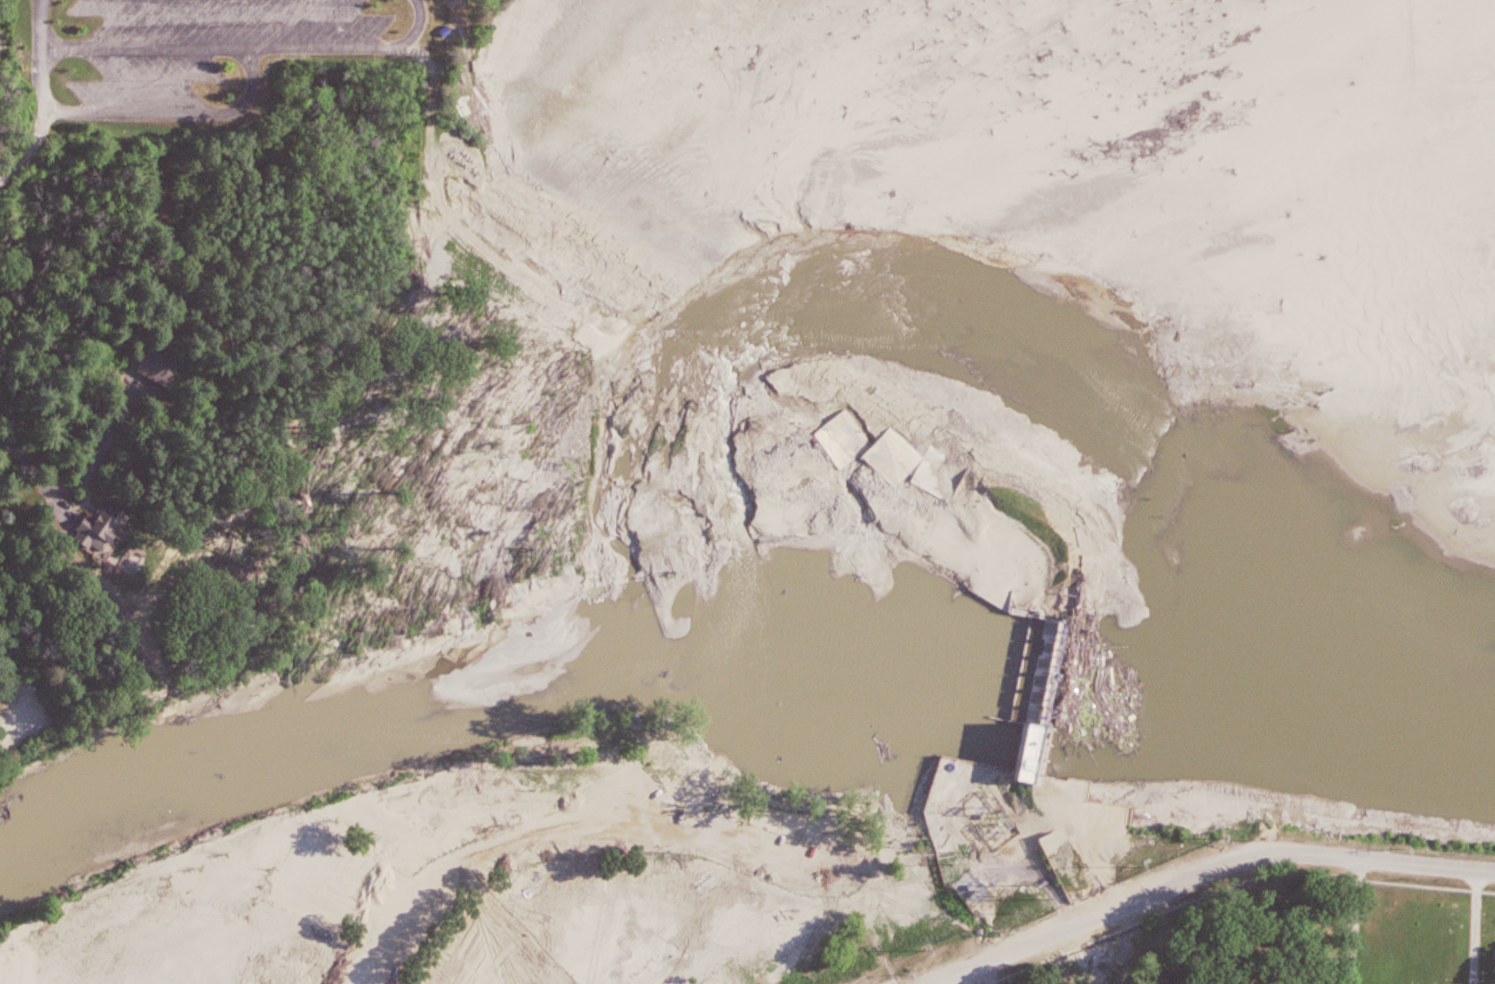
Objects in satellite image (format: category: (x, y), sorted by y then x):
road: (42, 25)
road: (250, 49)
parking lot: (175, 50)
road: (144, 112)
road: (493, 257)
park: (308, 289)
river: (988, 350)
building: (165, 369)
dam: (820, 437)
road: (31, 469)
building: (116, 531)
river: (1069, 676)
river: (353, 710)
river: (1453, 725)
building: (1034, 765)
road: (689, 785)
road: (331, 805)
road: (654, 814)
power substation: (991, 819)
road: (576, 832)
road: (1017, 860)
building: (309, 870)
road: (1206, 875)
parking lot: (811, 878)
park: (517, 881)
power substation: (971, 886)
road: (1235, 886)
park: (343, 891)
road: (870, 915)
road: (1355, 922)
park: (617, 926)
road: (1477, 927)
park: (1302, 940)
park: (136, 945)
park: (489, 953)
road: (985, 974)
road: (892, 982)

